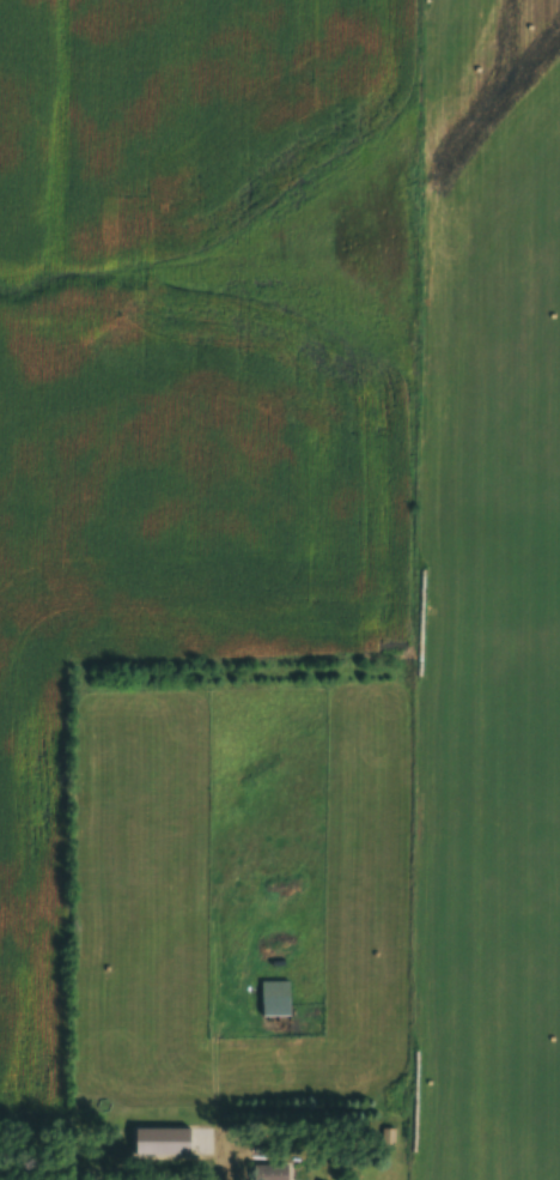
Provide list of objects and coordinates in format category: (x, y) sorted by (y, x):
building: (270, 988)
building: (269, 1170)

